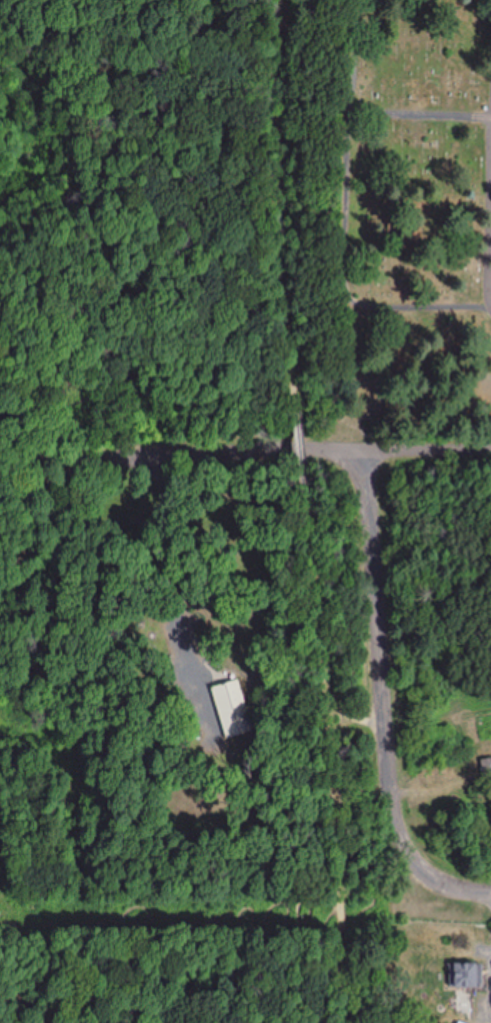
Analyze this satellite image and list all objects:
road: (276, 202)
park: (416, 222)
road: (293, 447)
road: (427, 450)
road: (369, 519)
building: (229, 703)
road: (330, 756)
building: (486, 768)
road: (135, 898)
road: (236, 914)
park: (132, 933)
building: (462, 975)
road: (8, 1020)

